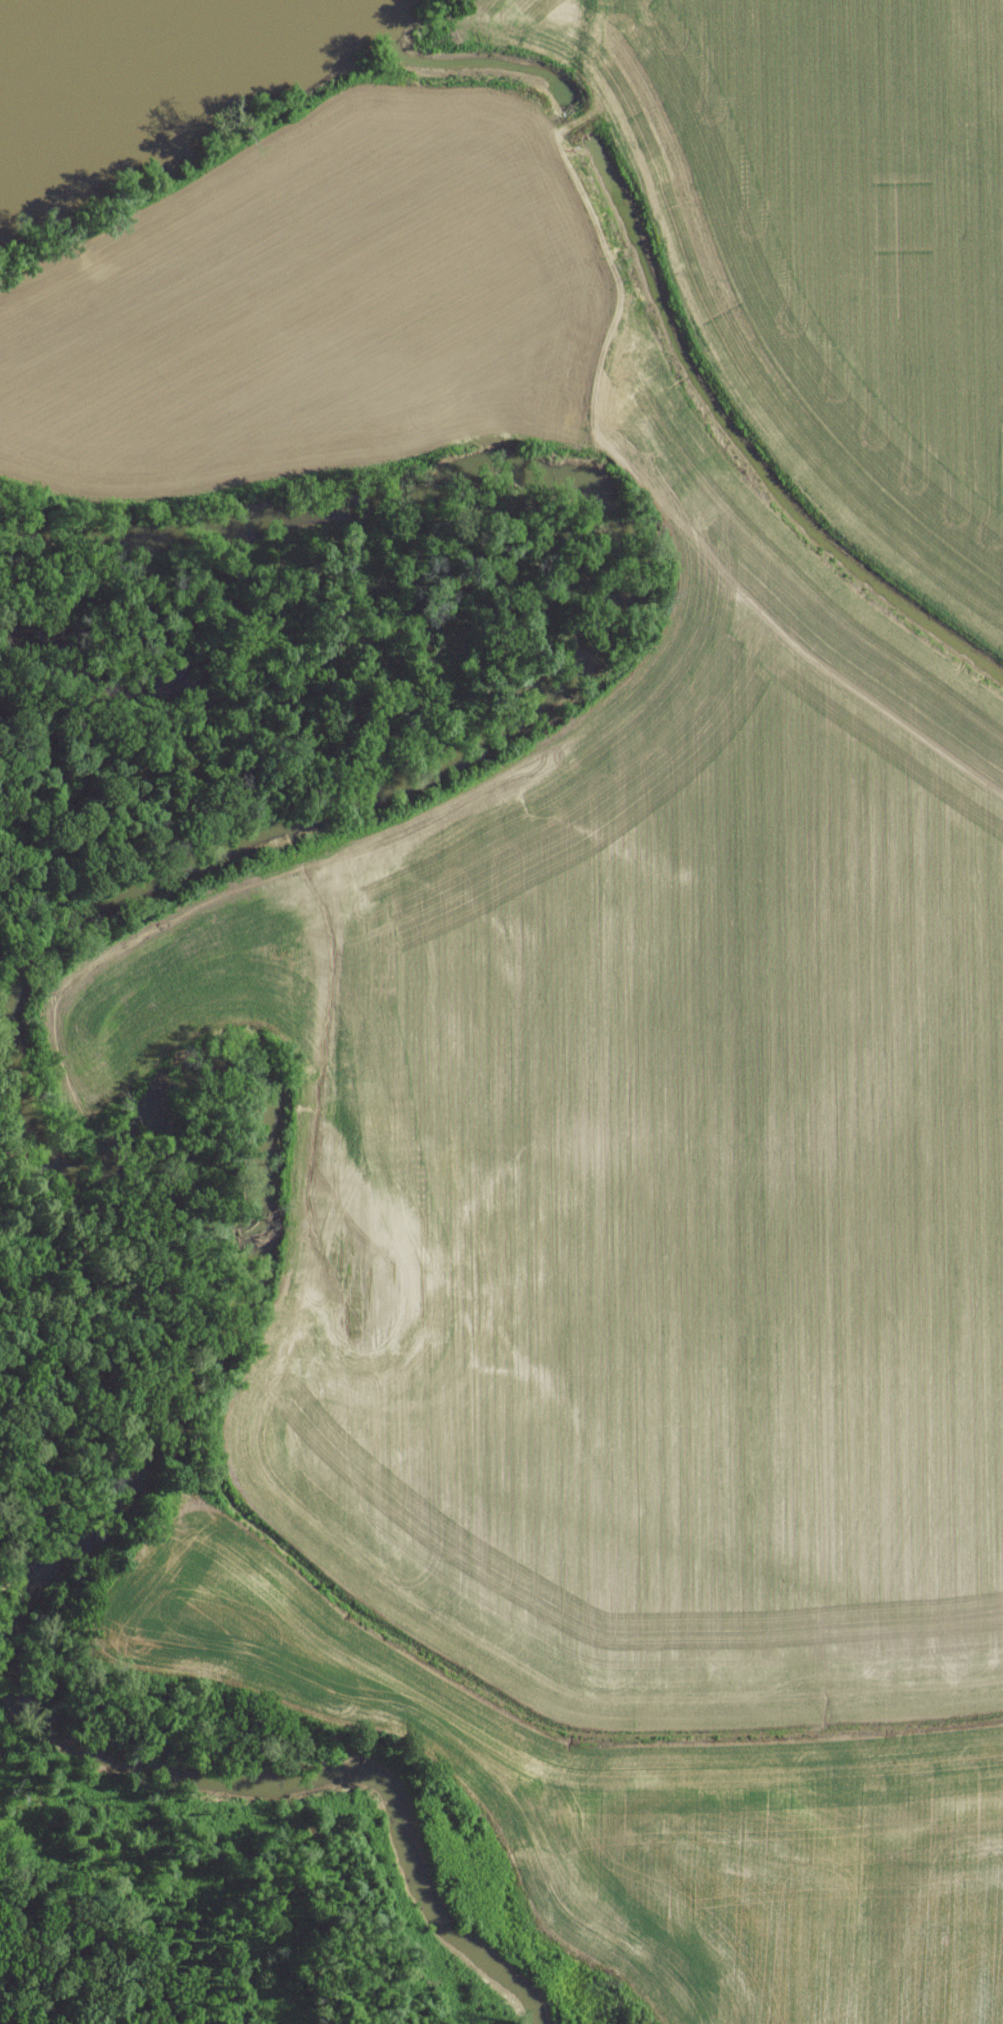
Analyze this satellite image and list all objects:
river: (135, 73)

